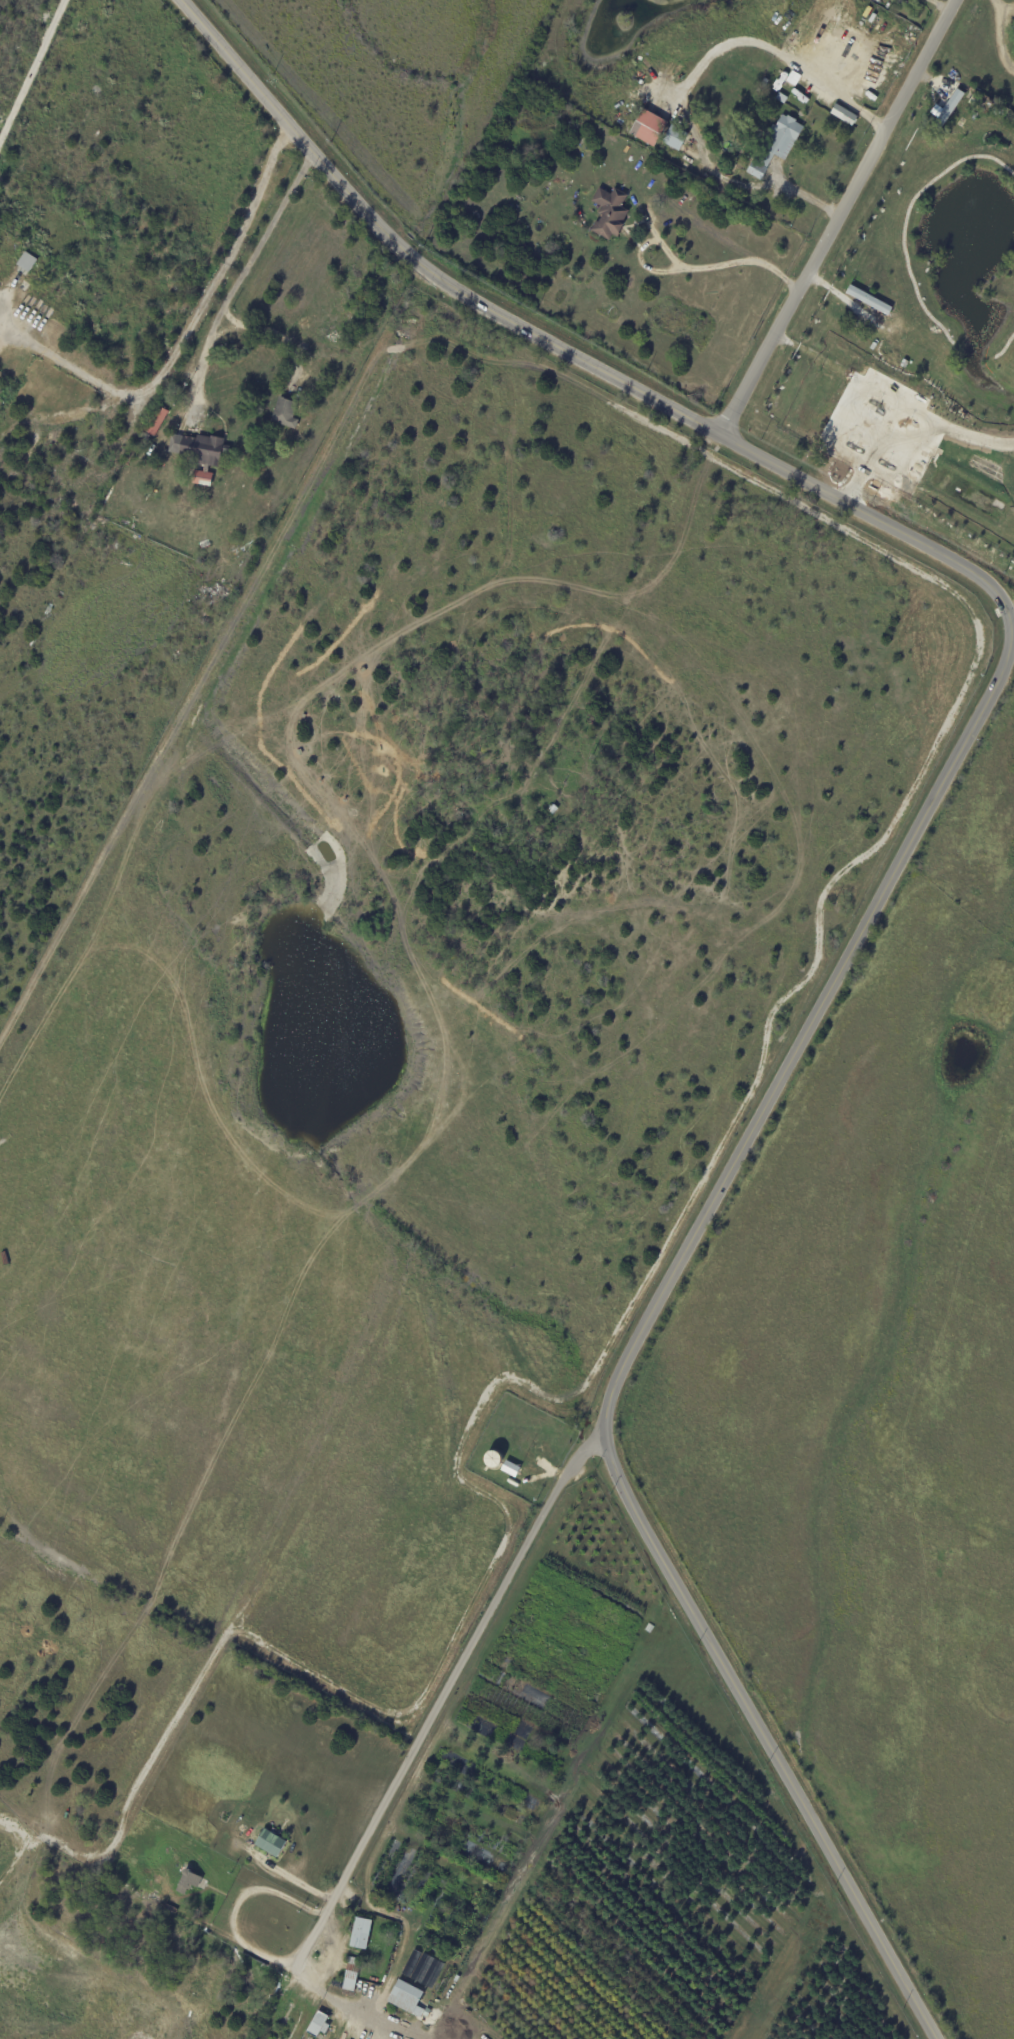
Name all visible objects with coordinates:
road: (882, 23)
road: (971, 70)
road: (32, 71)
road: (825, 84)
building: (800, 102)
building: (945, 108)
building: (844, 115)
building: (648, 128)
building: (674, 138)
building: (775, 146)
road: (699, 158)
building: (610, 213)
road: (844, 224)
building: (1, 244)
building: (6, 247)
building: (28, 250)
building: (25, 262)
road: (245, 268)
road: (692, 268)
building: (867, 300)
road: (185, 334)
road: (566, 351)
building: (904, 365)
building: (842, 409)
building: (284, 414)
building: (155, 422)
building: (289, 439)
building: (198, 455)
building: (249, 555)
building: (242, 568)
road: (1012, 636)
road: (809, 1030)
building: (510, 1470)
building: (649, 1628)
road: (764, 1739)
road: (409, 1751)
building: (270, 1843)
building: (189, 1882)
road: (276, 1893)
building: (149, 1897)
building: (360, 1933)
road: (247, 1948)
building: (411, 1964)
building: (421, 1969)
building: (350, 1974)
building: (432, 1974)
building: (405, 1997)
building: (317, 2024)

